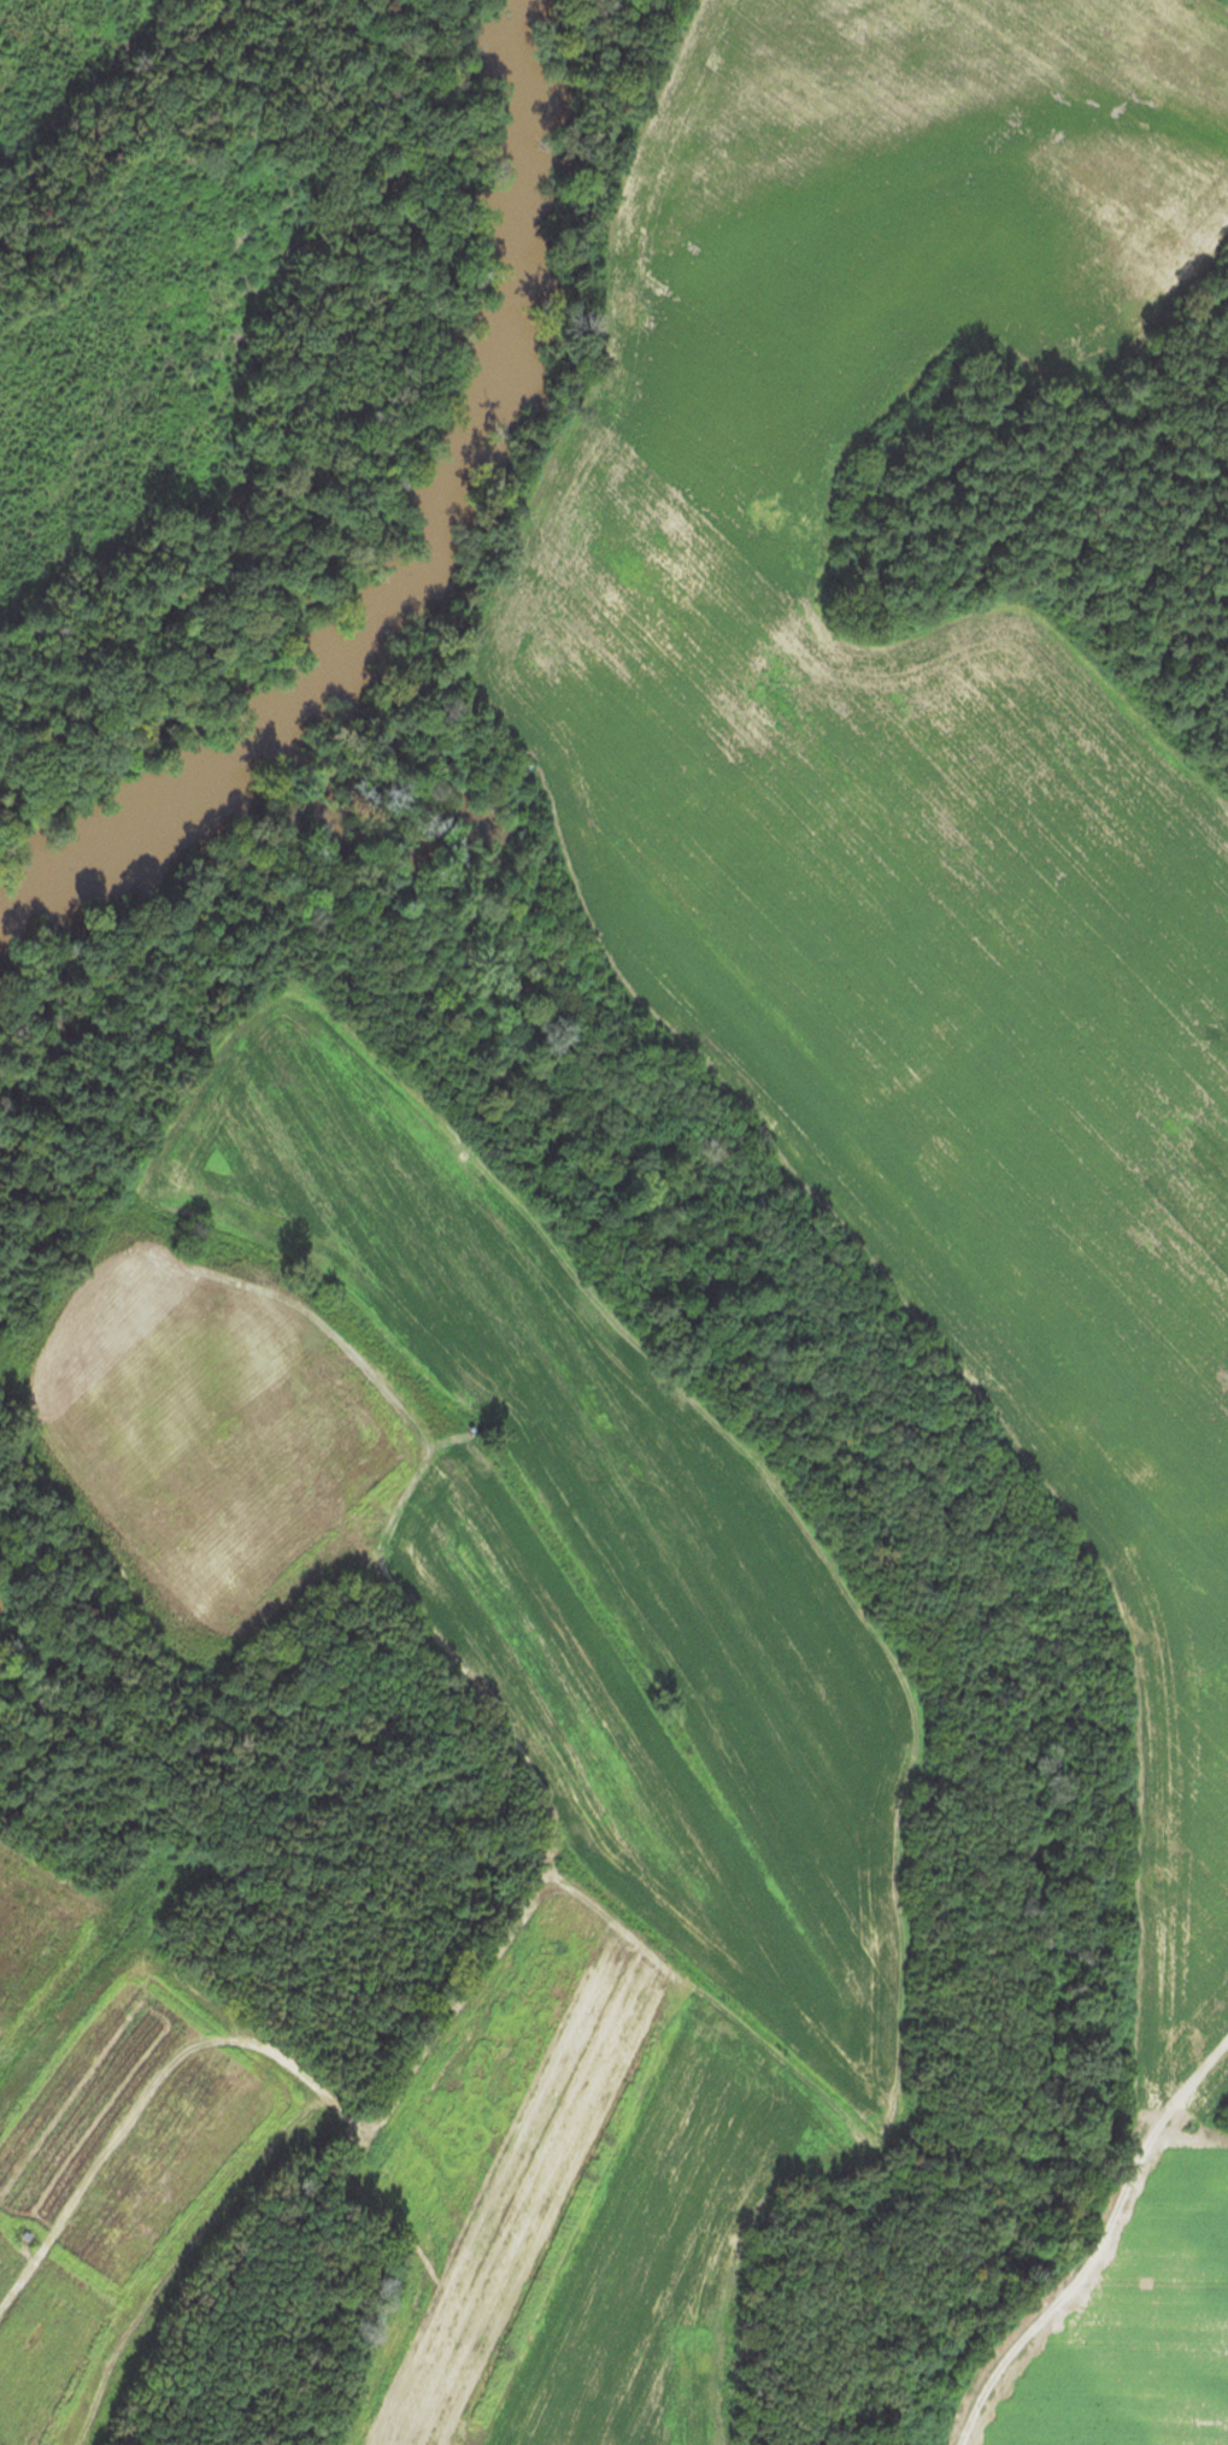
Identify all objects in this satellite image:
river: (470, 407)
river: (125, 839)

